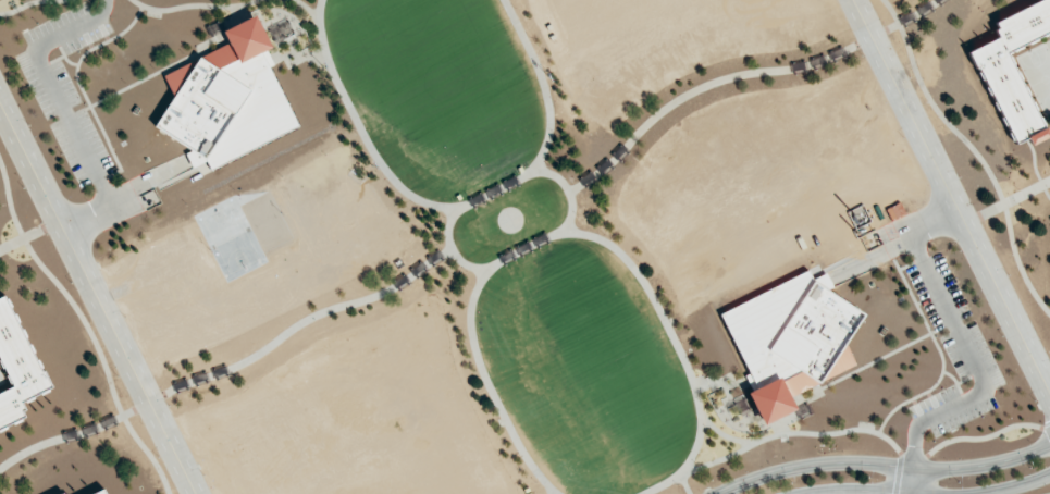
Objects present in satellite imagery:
building: (1013, 69)
building: (226, 98)
road: (953, 193)
road: (895, 238)
building: (418, 268)
road: (487, 269)
road: (99, 295)
building: (790, 338)
road: (974, 359)
building: (16, 367)
road: (879, 461)
road: (913, 479)
building: (101, 492)
road: (924, 493)

